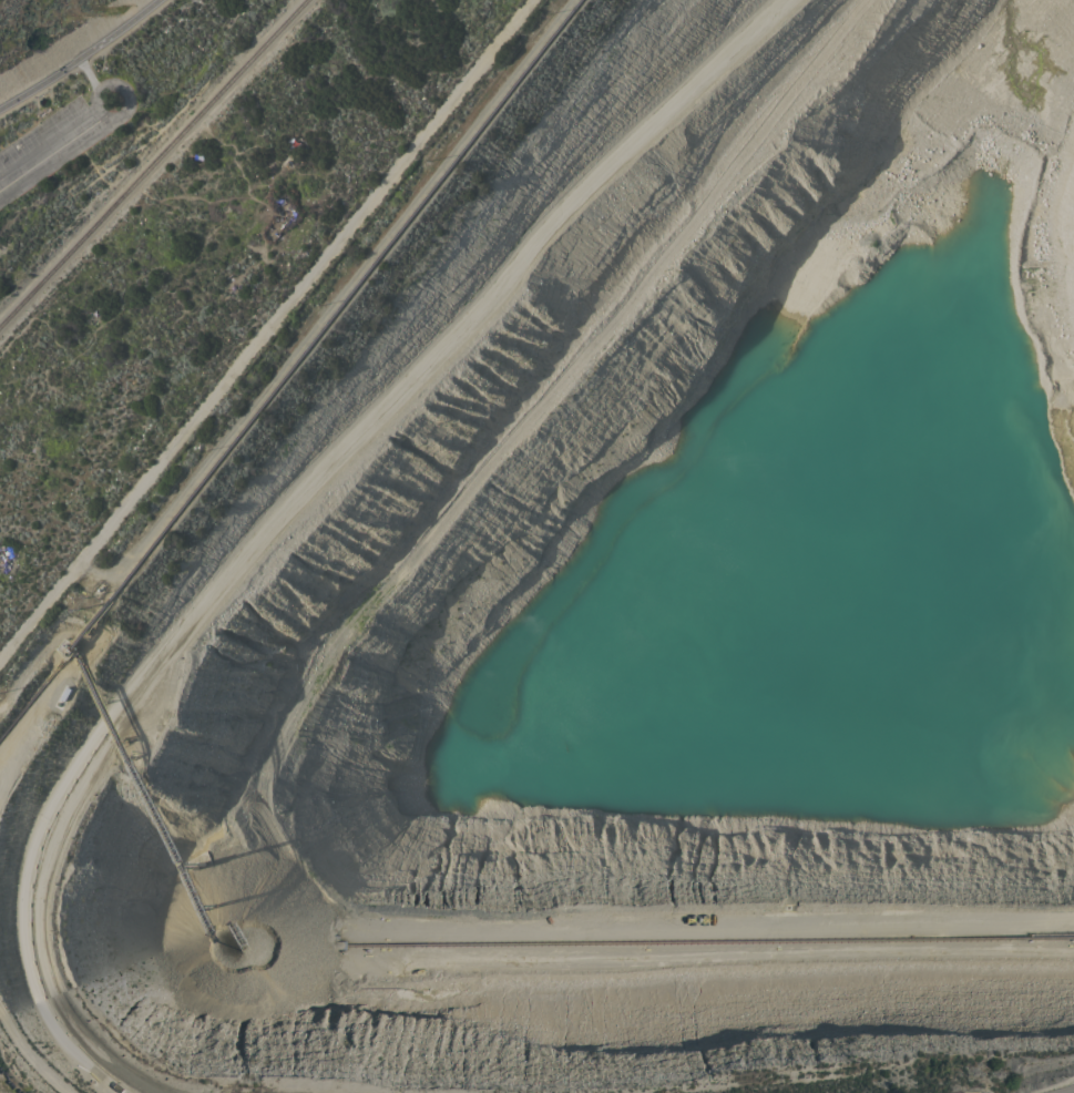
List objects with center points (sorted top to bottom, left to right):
road: (119, 29)
road: (86, 72)
road: (40, 81)
road: (92, 98)
parking lot: (48, 149)
road: (52, 153)
road: (146, 155)
railway: (153, 163)
road: (58, 590)
road: (197, 597)
quarry: (658, 600)
road: (1068, 1091)

